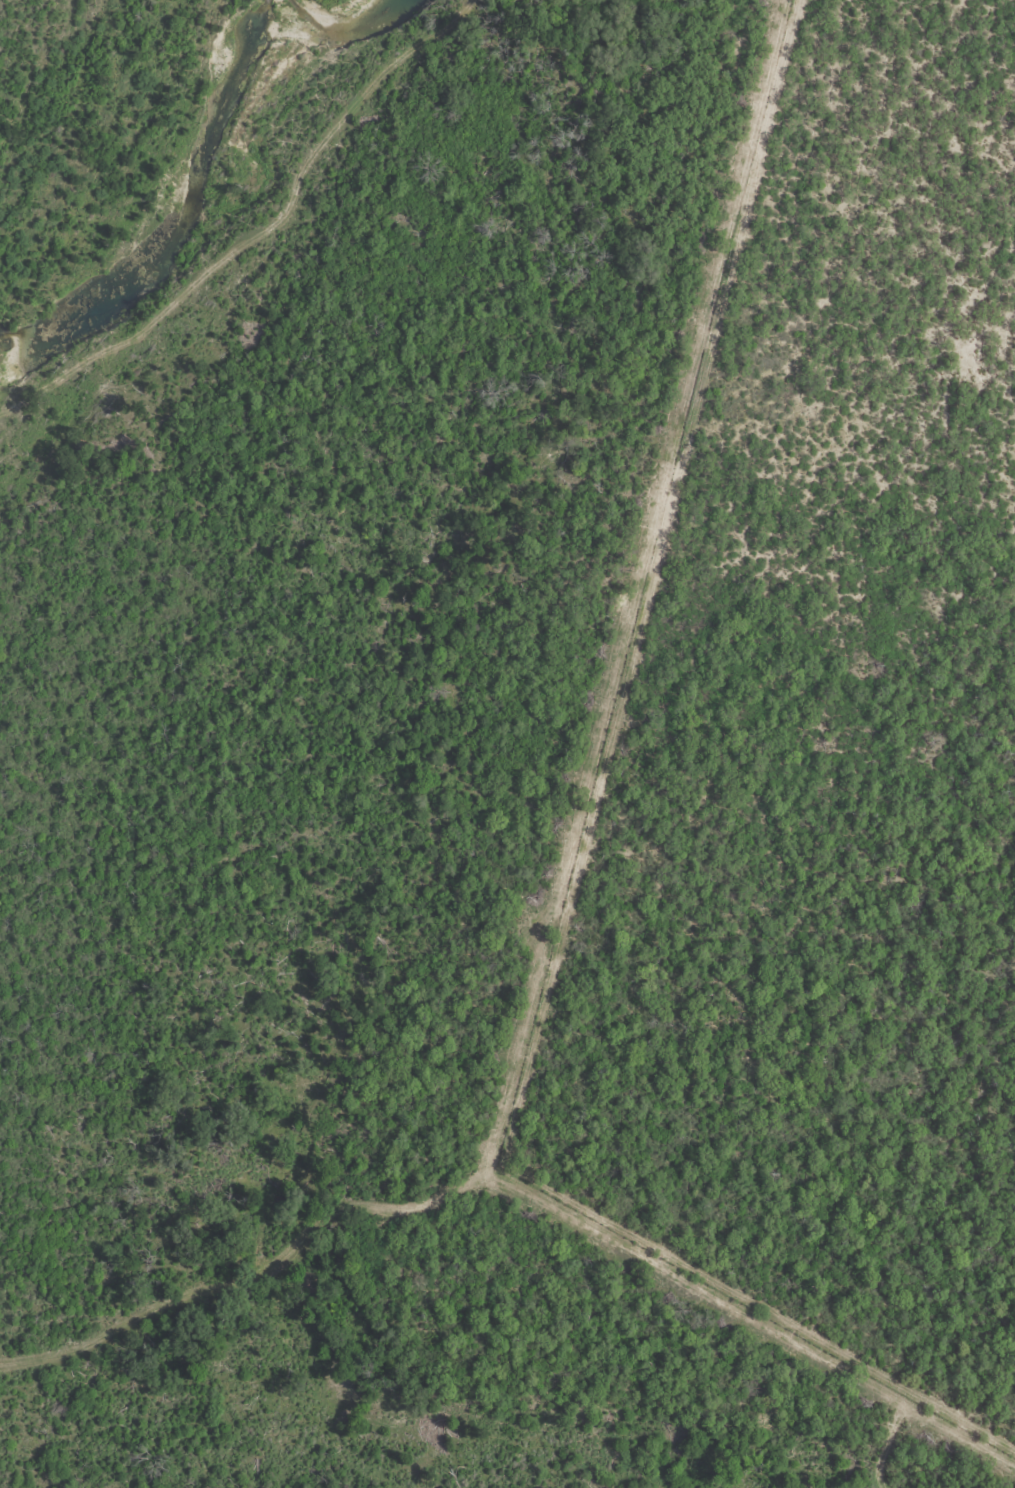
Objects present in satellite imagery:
river: (349, 30)
river: (198, 206)

